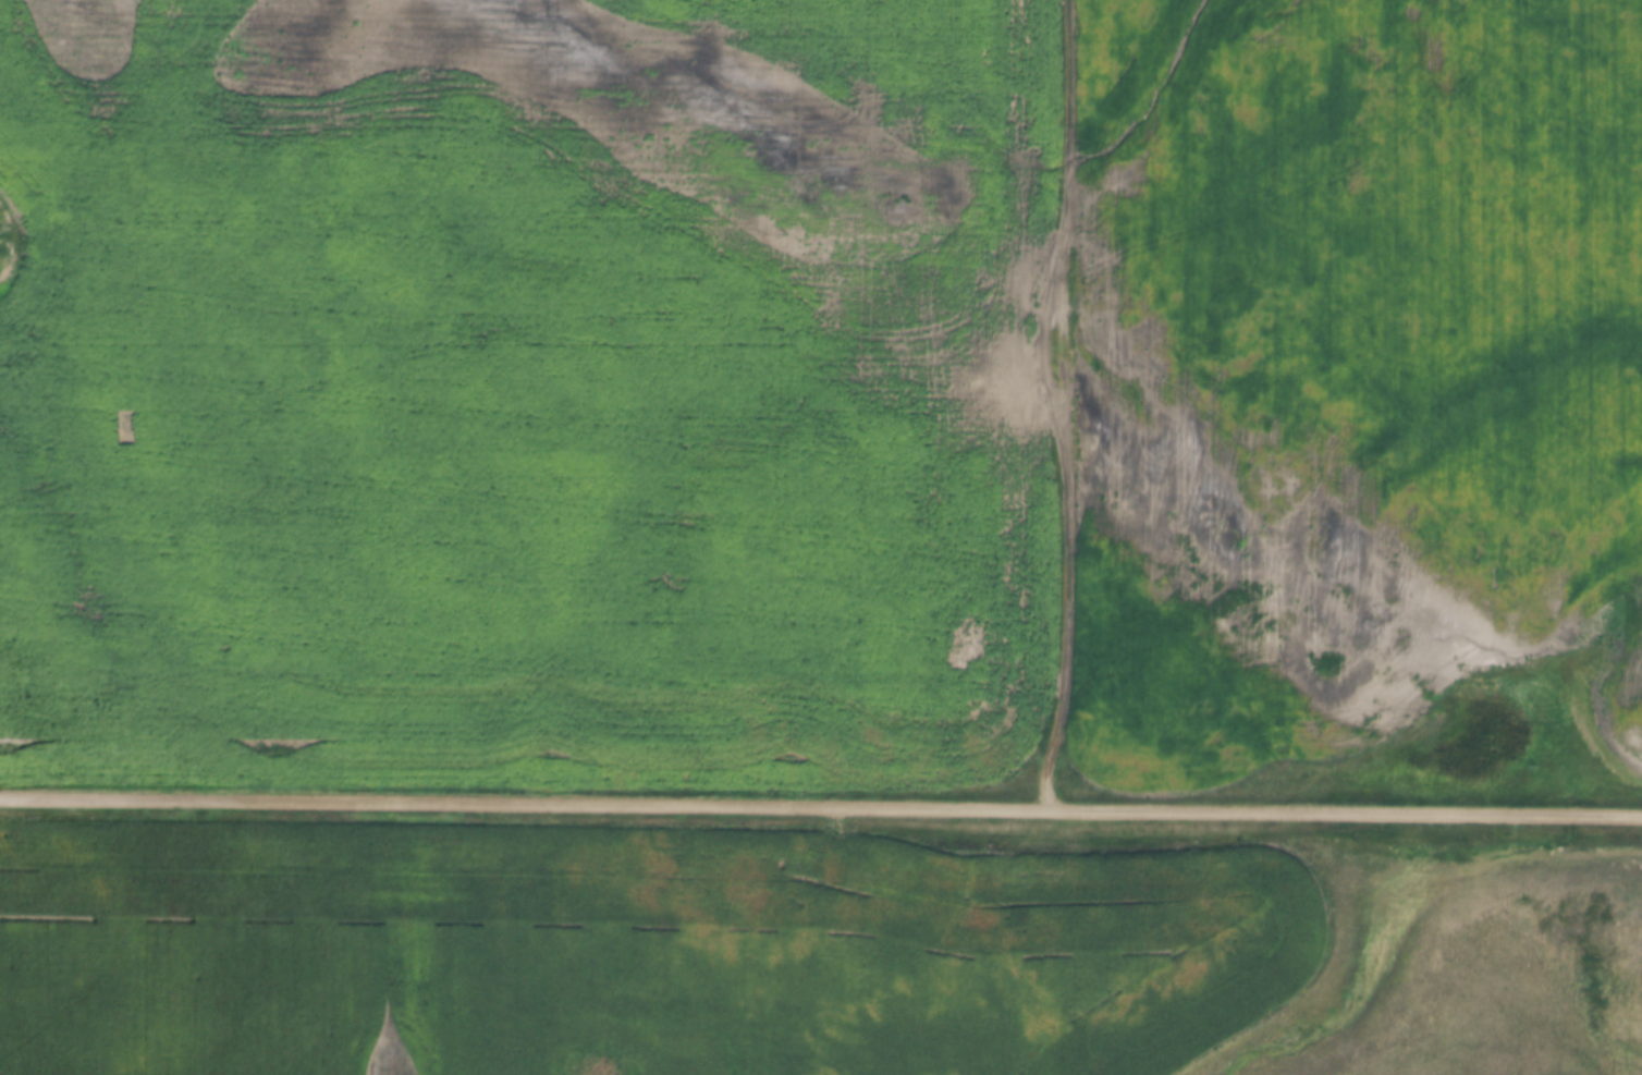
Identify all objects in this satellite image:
road: (1061, 404)
road: (821, 803)

